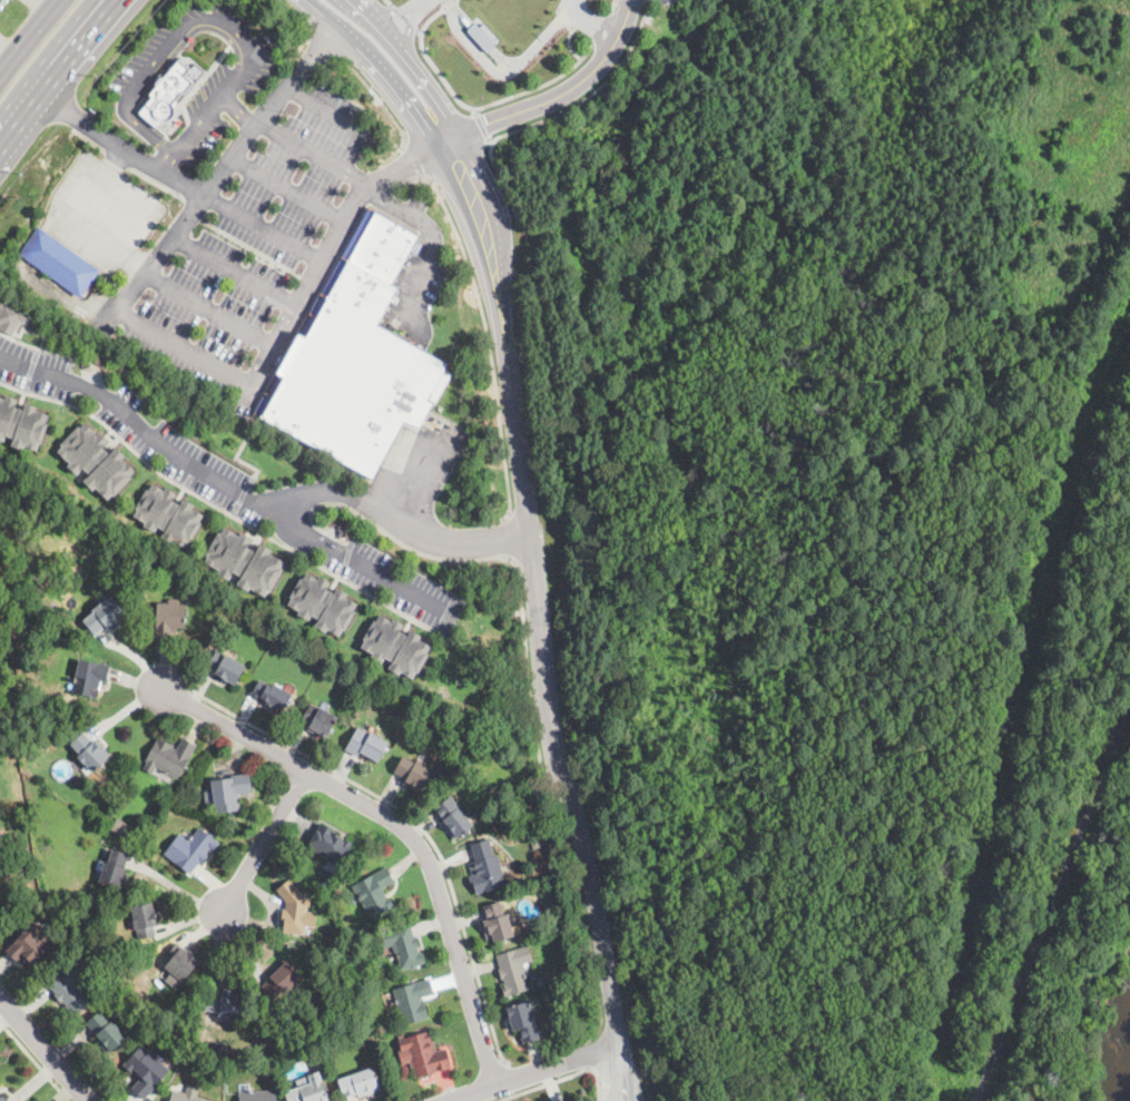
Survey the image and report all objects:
road: (448, 2)
road: (451, 2)
road: (391, 3)
road: (421, 3)
road: (559, 4)
road: (572, 4)
road: (47, 6)
road: (611, 6)
road: (390, 10)
road: (628, 13)
road: (566, 16)
road: (299, 17)
road: (405, 17)
road: (597, 18)
road: (602, 27)
road: (591, 28)
road: (419, 30)
road: (407, 31)
road: (482, 36)
road: (31, 38)
road: (616, 39)
road: (184, 42)
road: (569, 43)
road: (325, 46)
road: (6, 56)
road: (157, 59)
road: (409, 66)
road: (379, 71)
road: (504, 71)
road: (61, 76)
building: (171, 90)
road: (380, 101)
road: (216, 104)
road: (534, 105)
road: (476, 106)
road: (473, 109)
road: (240, 110)
road: (327, 112)
road: (557, 115)
road: (481, 125)
road: (491, 139)
road: (122, 147)
road: (166, 163)
road: (414, 163)
road: (224, 168)
road: (466, 186)
road: (289, 188)
road: (386, 196)
road: (263, 228)
road: (330, 248)
building: (59, 262)
road: (236, 269)
road: (208, 312)
building: (11, 315)
road: (487, 327)
road: (48, 350)
road: (181, 352)
building: (356, 358)
road: (30, 368)
building: (21, 422)
road: (236, 453)
building: (97, 460)
road: (226, 484)
road: (242, 494)
road: (220, 509)
building: (168, 513)
road: (401, 525)
road: (515, 538)
park: (859, 541)
road: (406, 544)
building: (244, 560)
building: (323, 602)
building: (48, 608)
building: (104, 616)
building: (169, 618)
road: (540, 637)
building: (395, 645)
building: (229, 669)
road: (528, 674)
building: (89, 678)
building: (272, 694)
building: (318, 720)
building: (366, 744)
building: (89, 751)
building: (169, 756)
building: (413, 773)
building: (228, 792)
building: (453, 818)
road: (416, 824)
road: (401, 826)
building: (120, 827)
building: (0, 837)
road: (264, 843)
building: (330, 844)
building: (535, 845)
building: (191, 849)
building: (487, 867)
building: (112, 868)
building: (327, 872)
road: (176, 886)
building: (374, 892)
building: (2, 896)
road: (1052, 904)
building: (295, 908)
building: (145, 920)
building: (497, 923)
building: (401, 945)
building: (30, 947)
building: (181, 962)
building: (513, 970)
building: (279, 979)
building: (69, 989)
building: (413, 1001)
building: (224, 1003)
building: (522, 1021)
building: (107, 1032)
road: (45, 1049)
building: (424, 1054)
building: (190, 1056)
road: (595, 1060)
road: (35, 1061)
building: (146, 1071)
road: (534, 1072)
road: (628, 1072)
road: (610, 1073)
road: (510, 1079)
building: (360, 1083)
road: (600, 1083)
road: (550, 1084)
building: (308, 1092)
building: (257, 1095)
building: (3, 1097)
building: (184, 1097)
building: (566, 1100)

